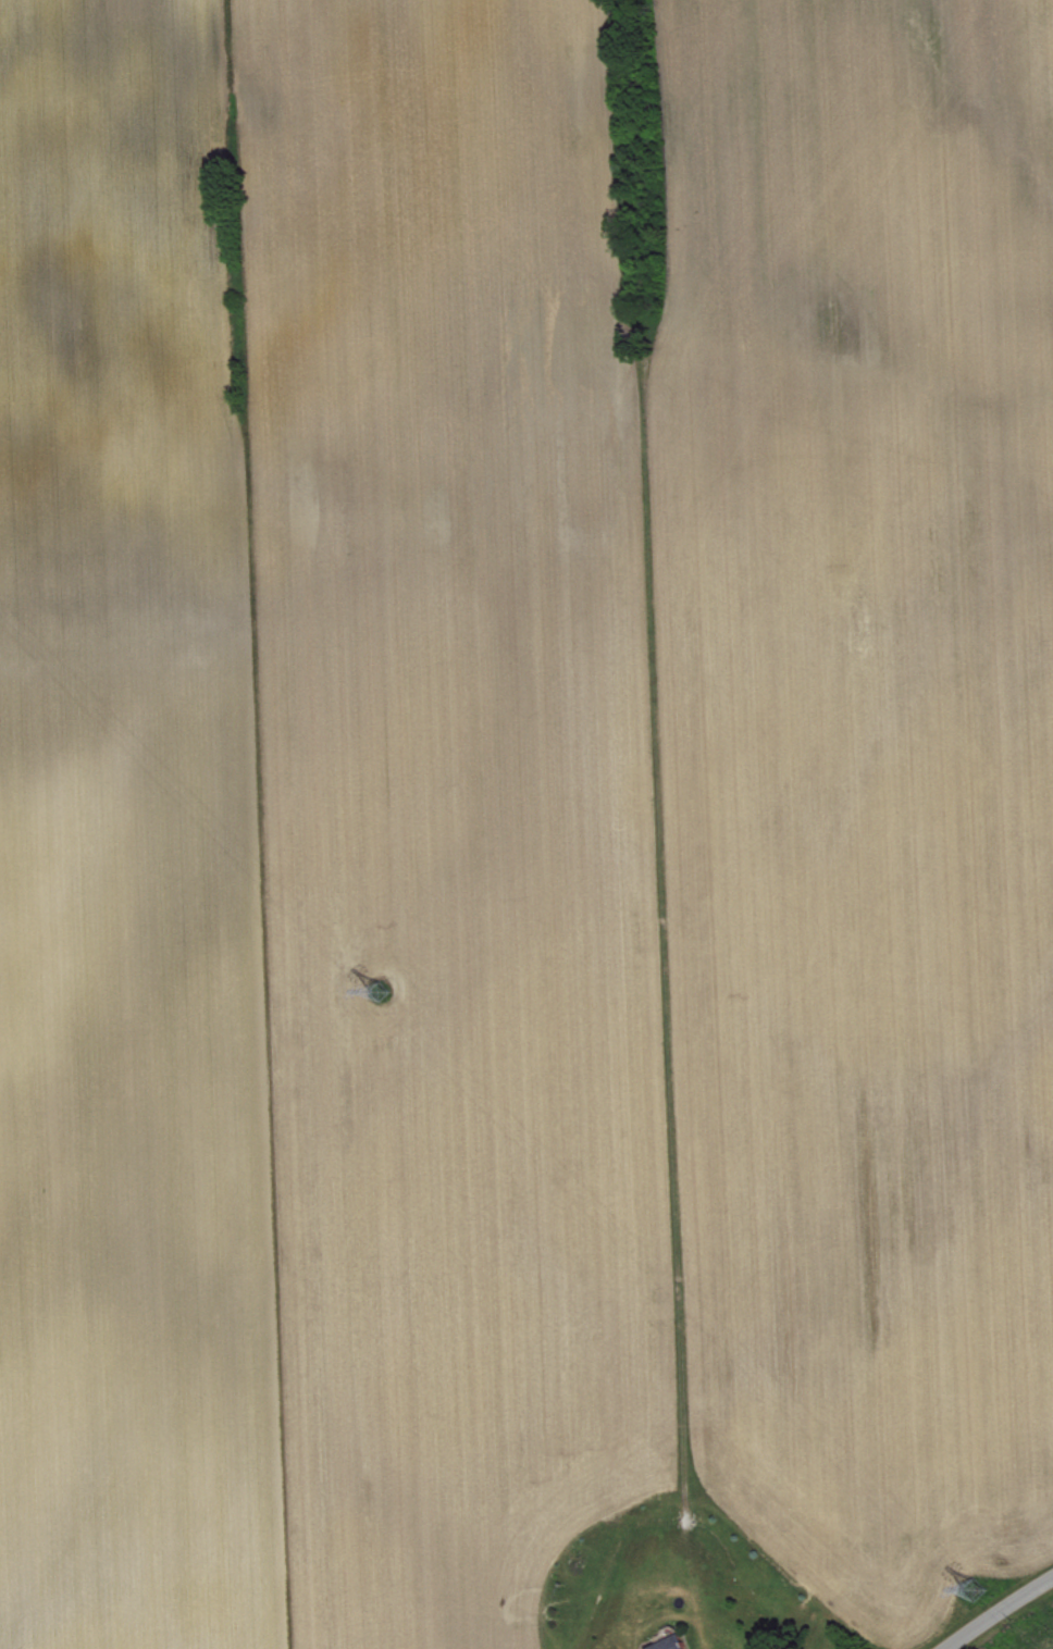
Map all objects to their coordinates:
power tower: (381, 992)
power tower: (977, 1591)
road: (1030, 1592)
road: (979, 1627)
building: (681, 1646)

